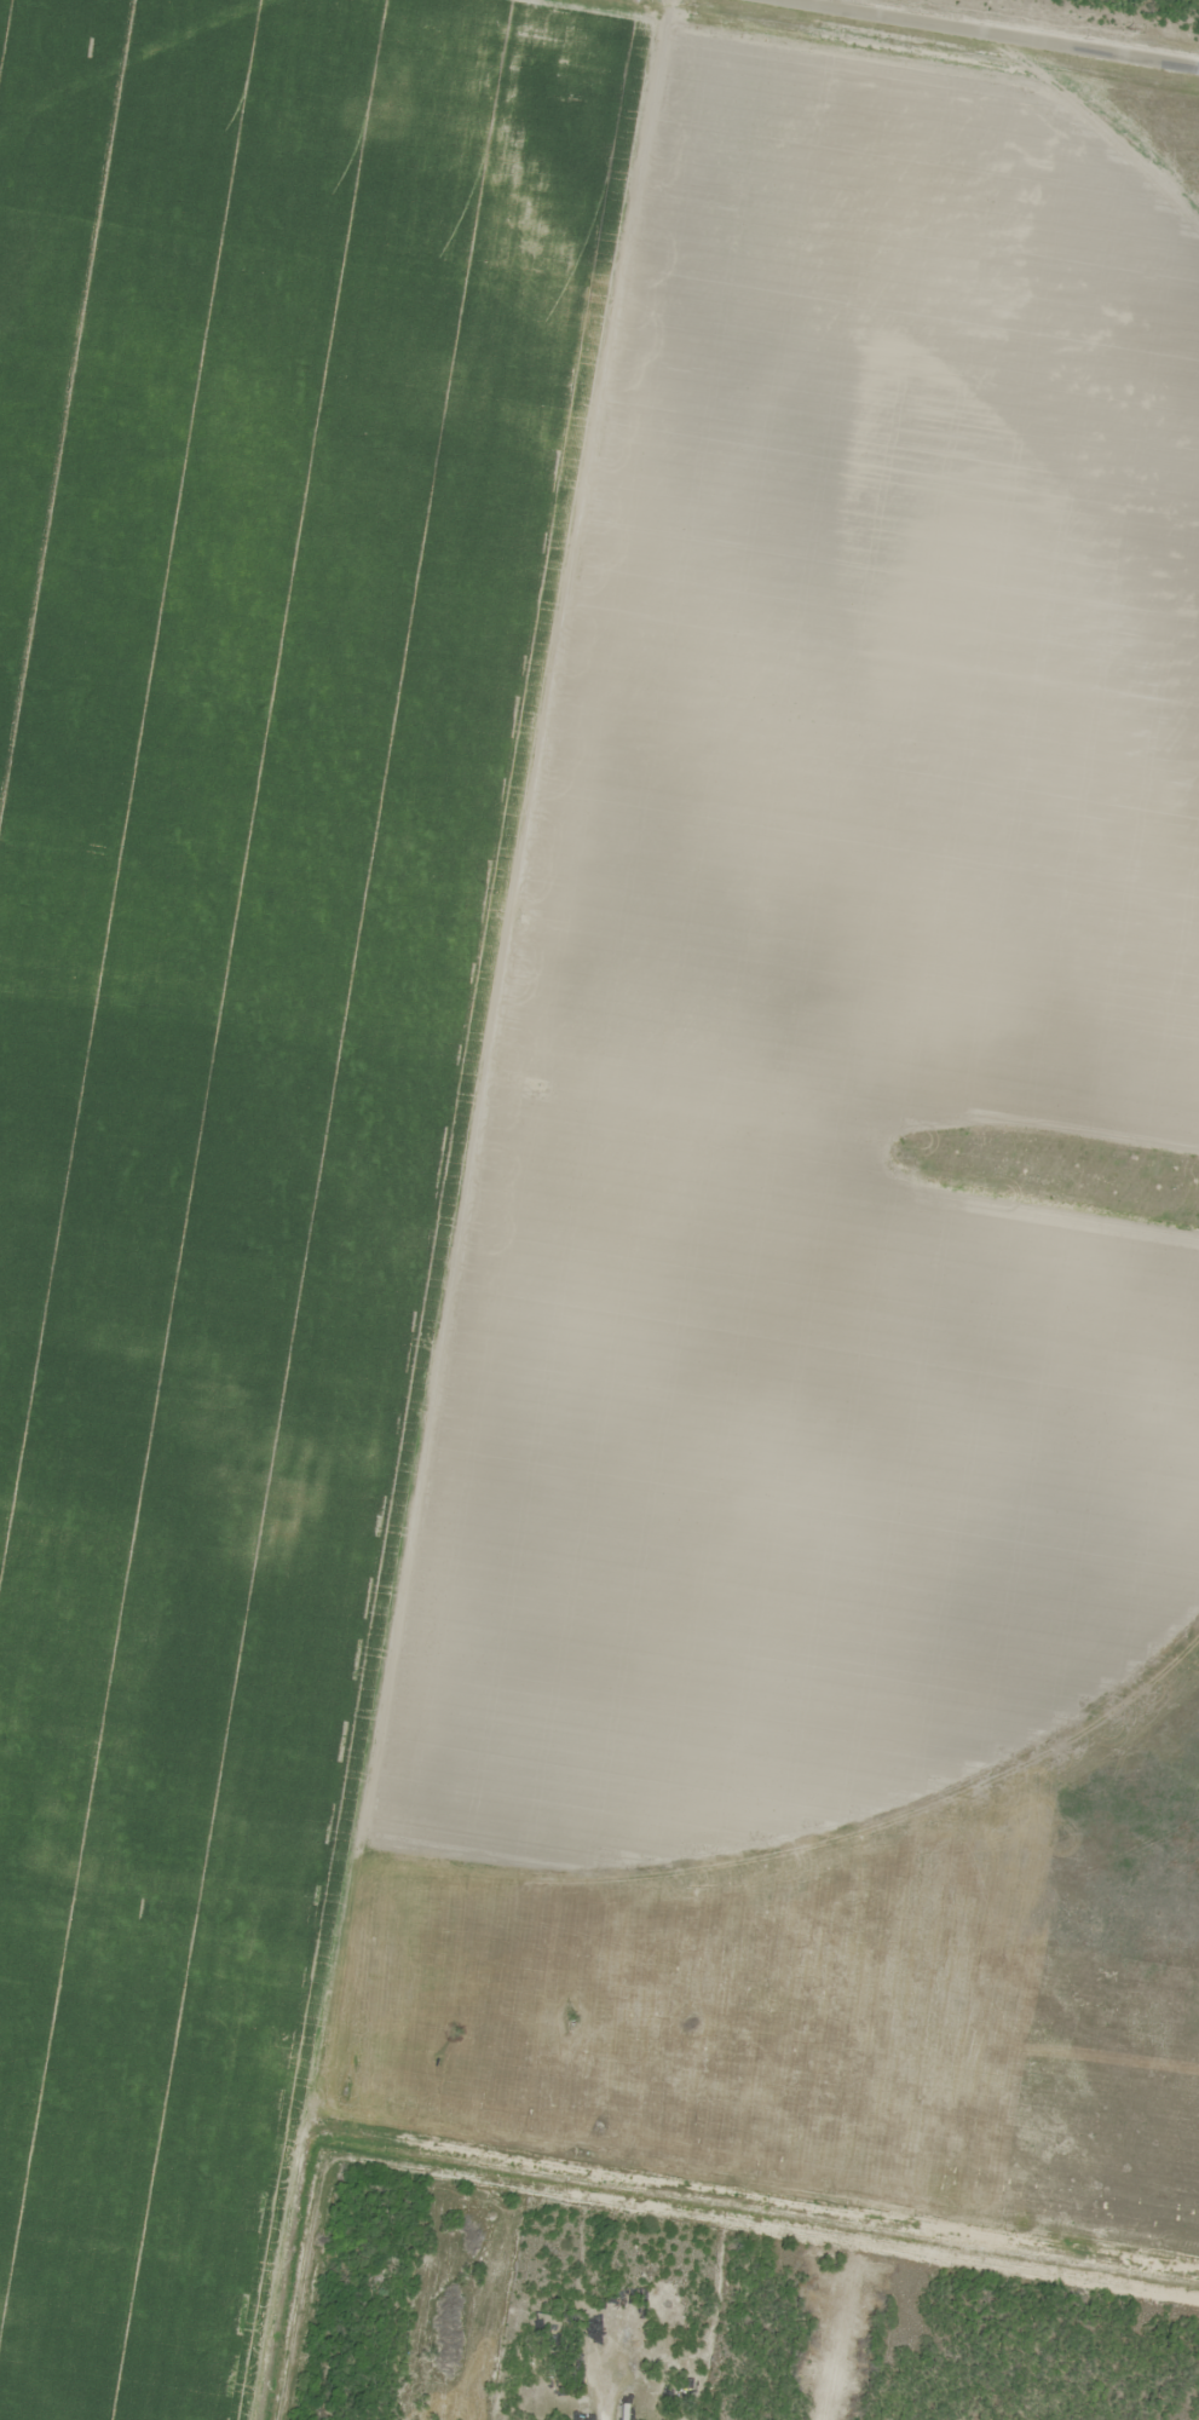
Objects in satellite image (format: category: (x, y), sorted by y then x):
railway: (1157, 6)
road: (993, 33)

